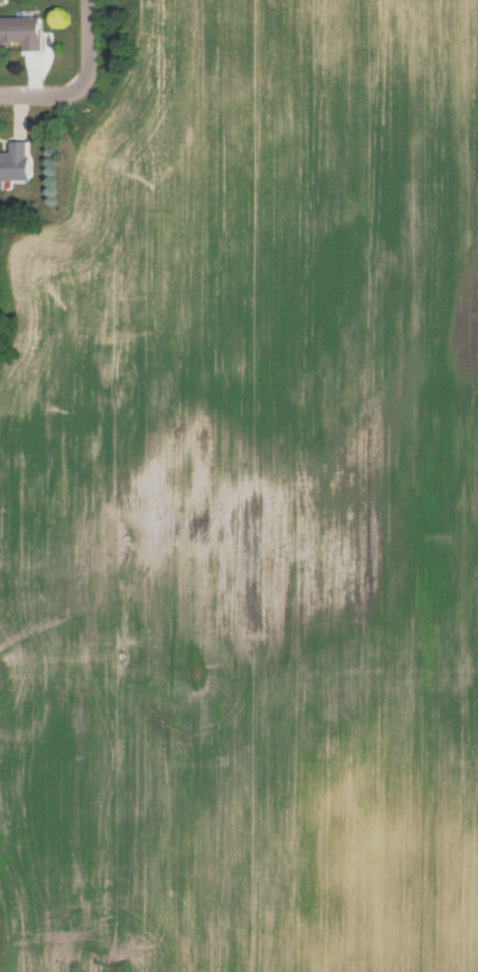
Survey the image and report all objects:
building: (22, 31)
road: (95, 48)
road: (51, 97)
building: (15, 162)

